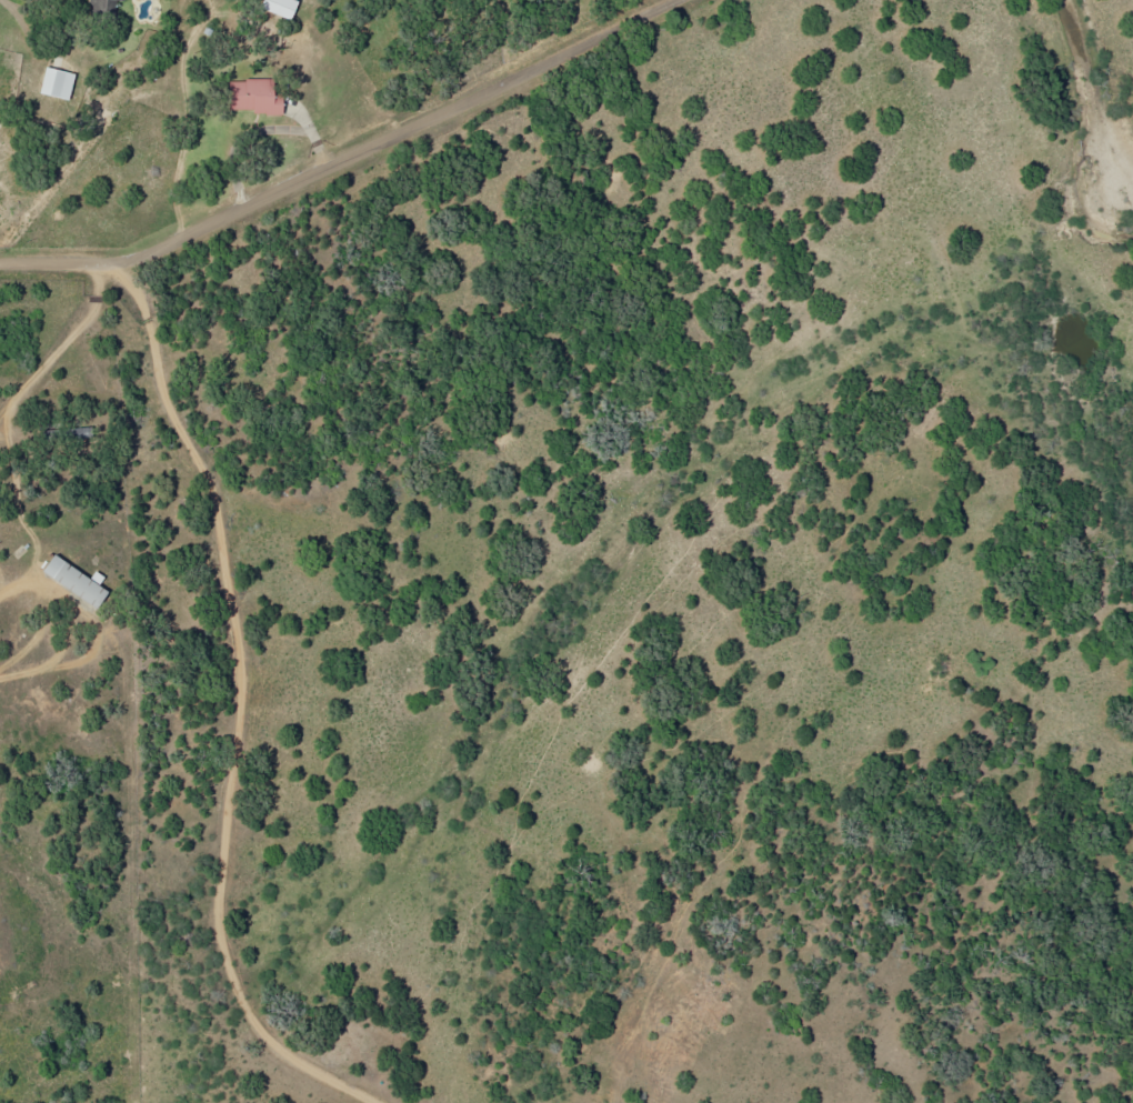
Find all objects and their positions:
building: (102, 6)
building: (280, 7)
building: (57, 83)
building: (253, 97)
road: (345, 159)
road: (575, 469)
building: (74, 581)
road: (235, 705)

